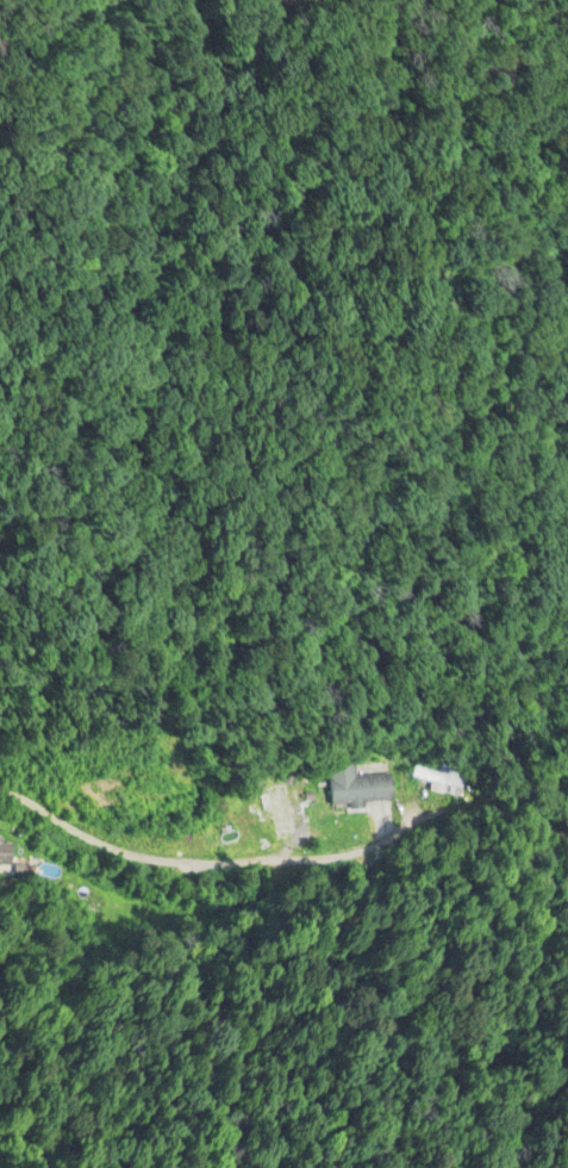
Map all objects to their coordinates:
building: (438, 778)
building: (357, 787)
road: (248, 795)
building: (276, 802)
road: (532, 820)
building: (1, 851)

